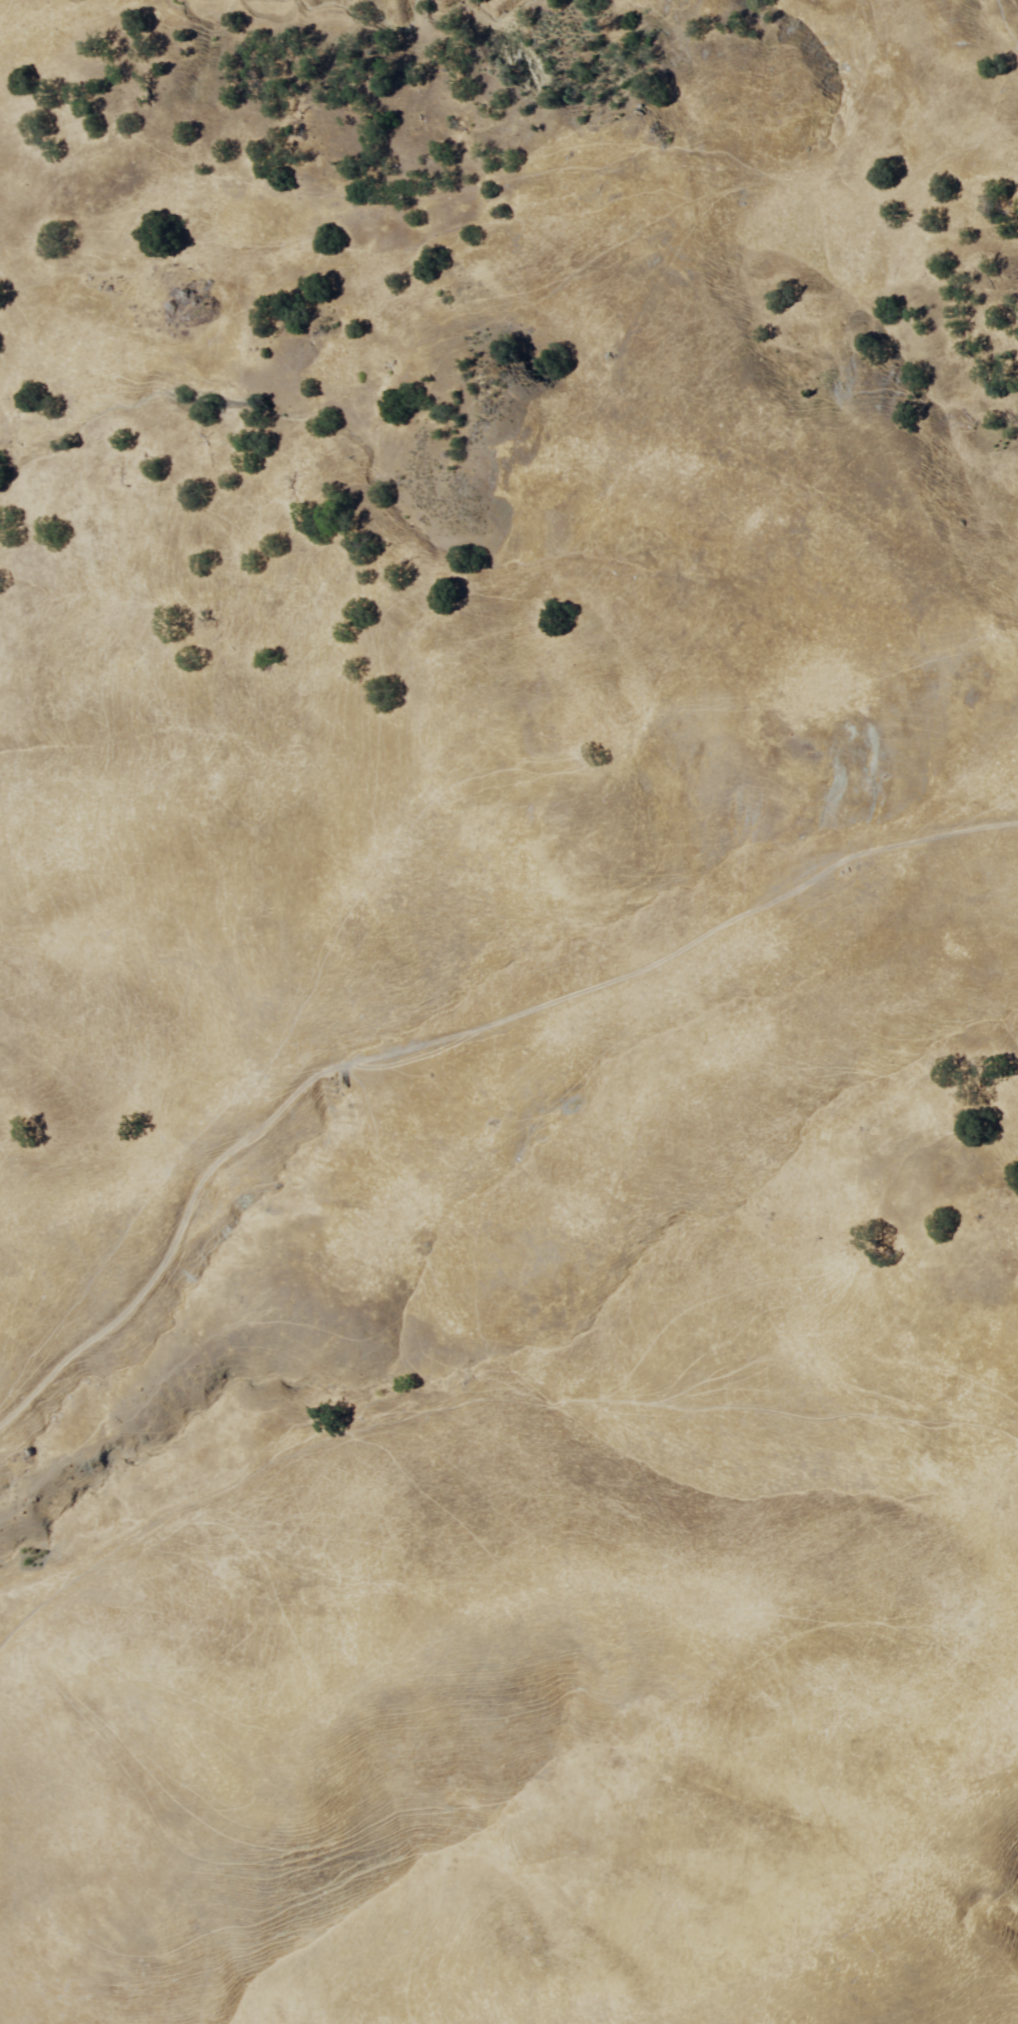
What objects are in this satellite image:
road: (442, 1034)

